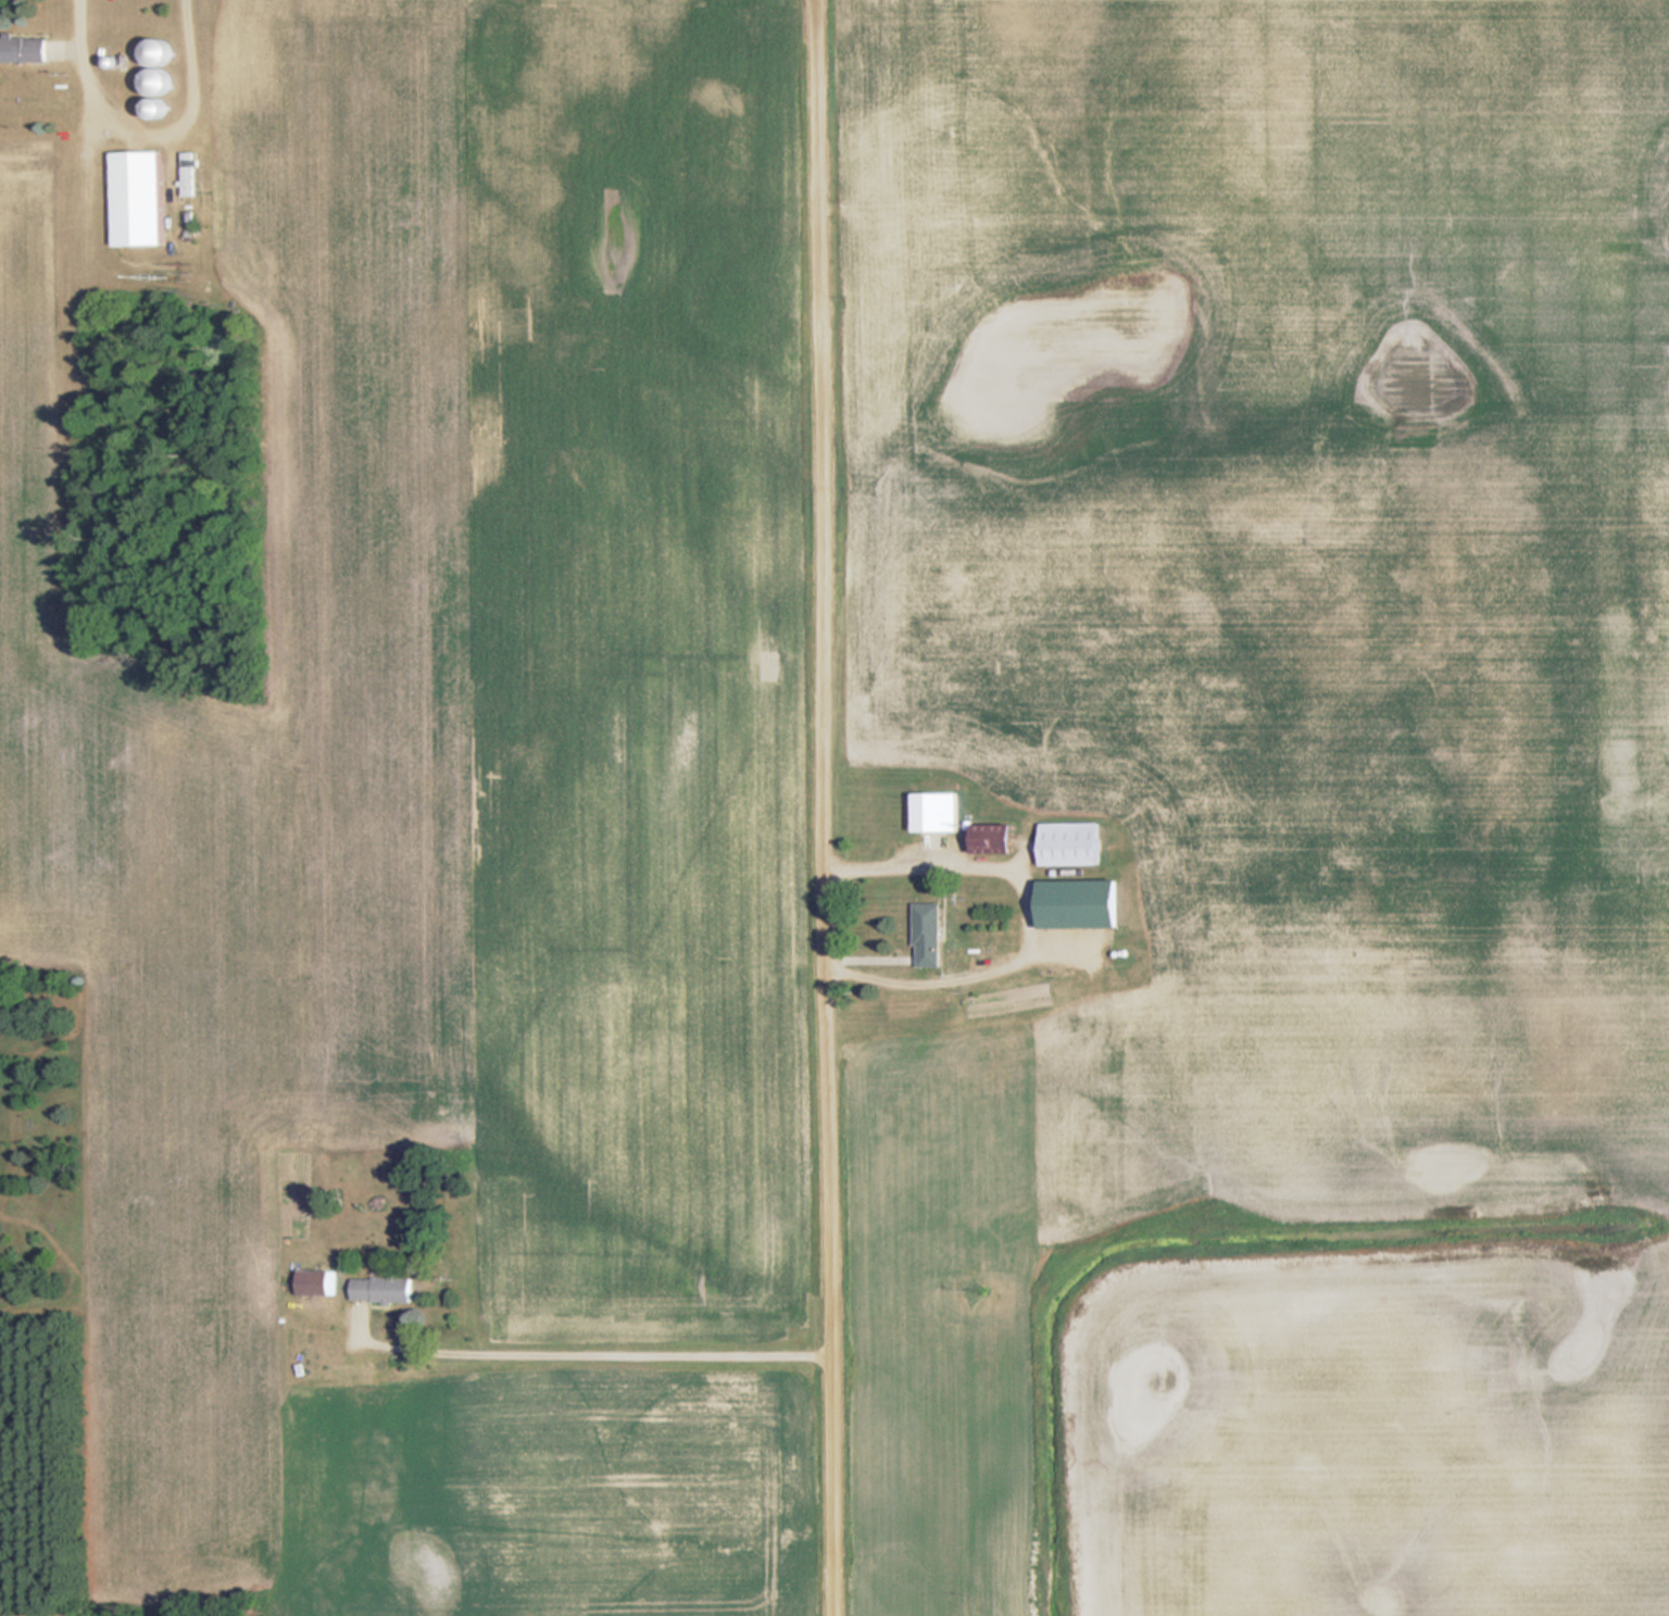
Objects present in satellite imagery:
building: (24, 50)
building: (162, 68)
building: (189, 173)
building: (139, 199)
building: (757, 284)
road: (830, 807)
building: (939, 812)
building: (997, 838)
building: (1072, 843)
building: (1084, 903)
building: (931, 935)
building: (318, 1282)
building: (385, 1290)

